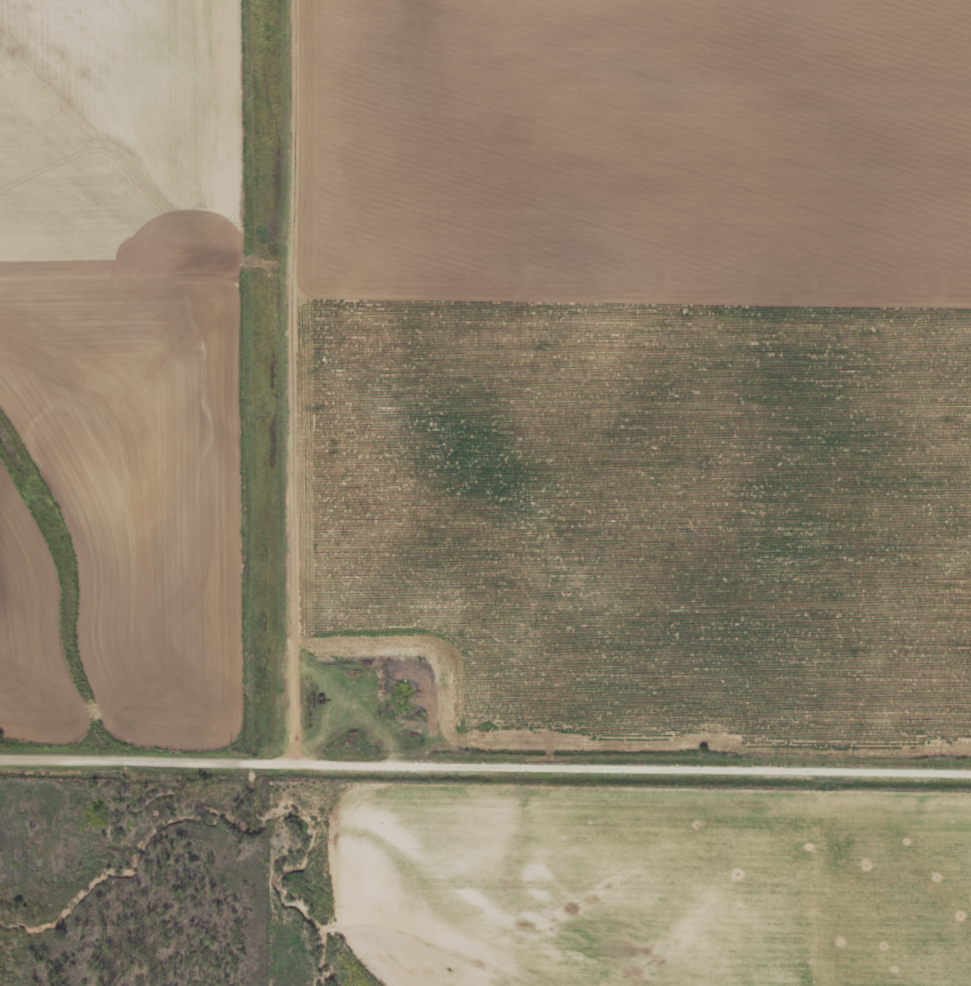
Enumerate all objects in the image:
road: (281, 381)
road: (485, 763)

